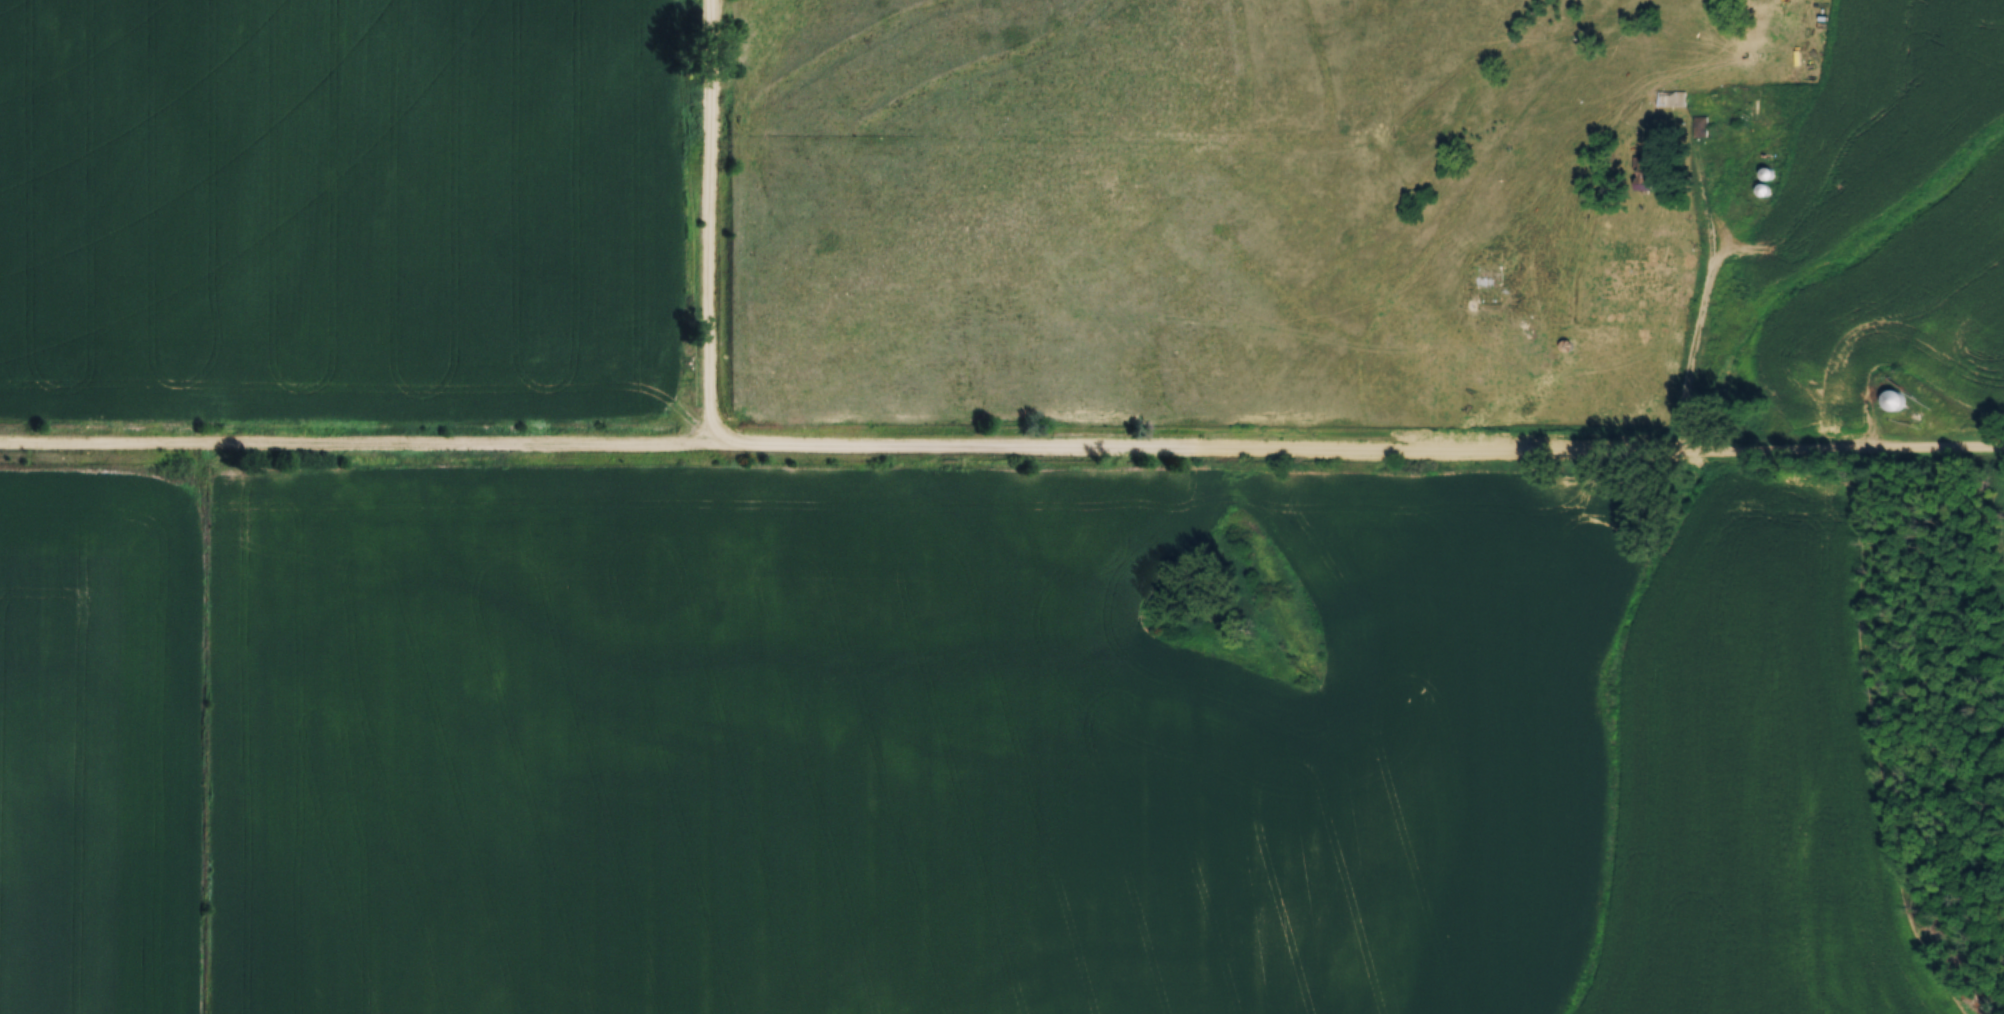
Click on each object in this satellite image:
building: (1671, 95)
building: (1700, 122)
building: (1644, 170)
road: (709, 223)
road: (1704, 303)
building: (1895, 395)
road: (1001, 452)

